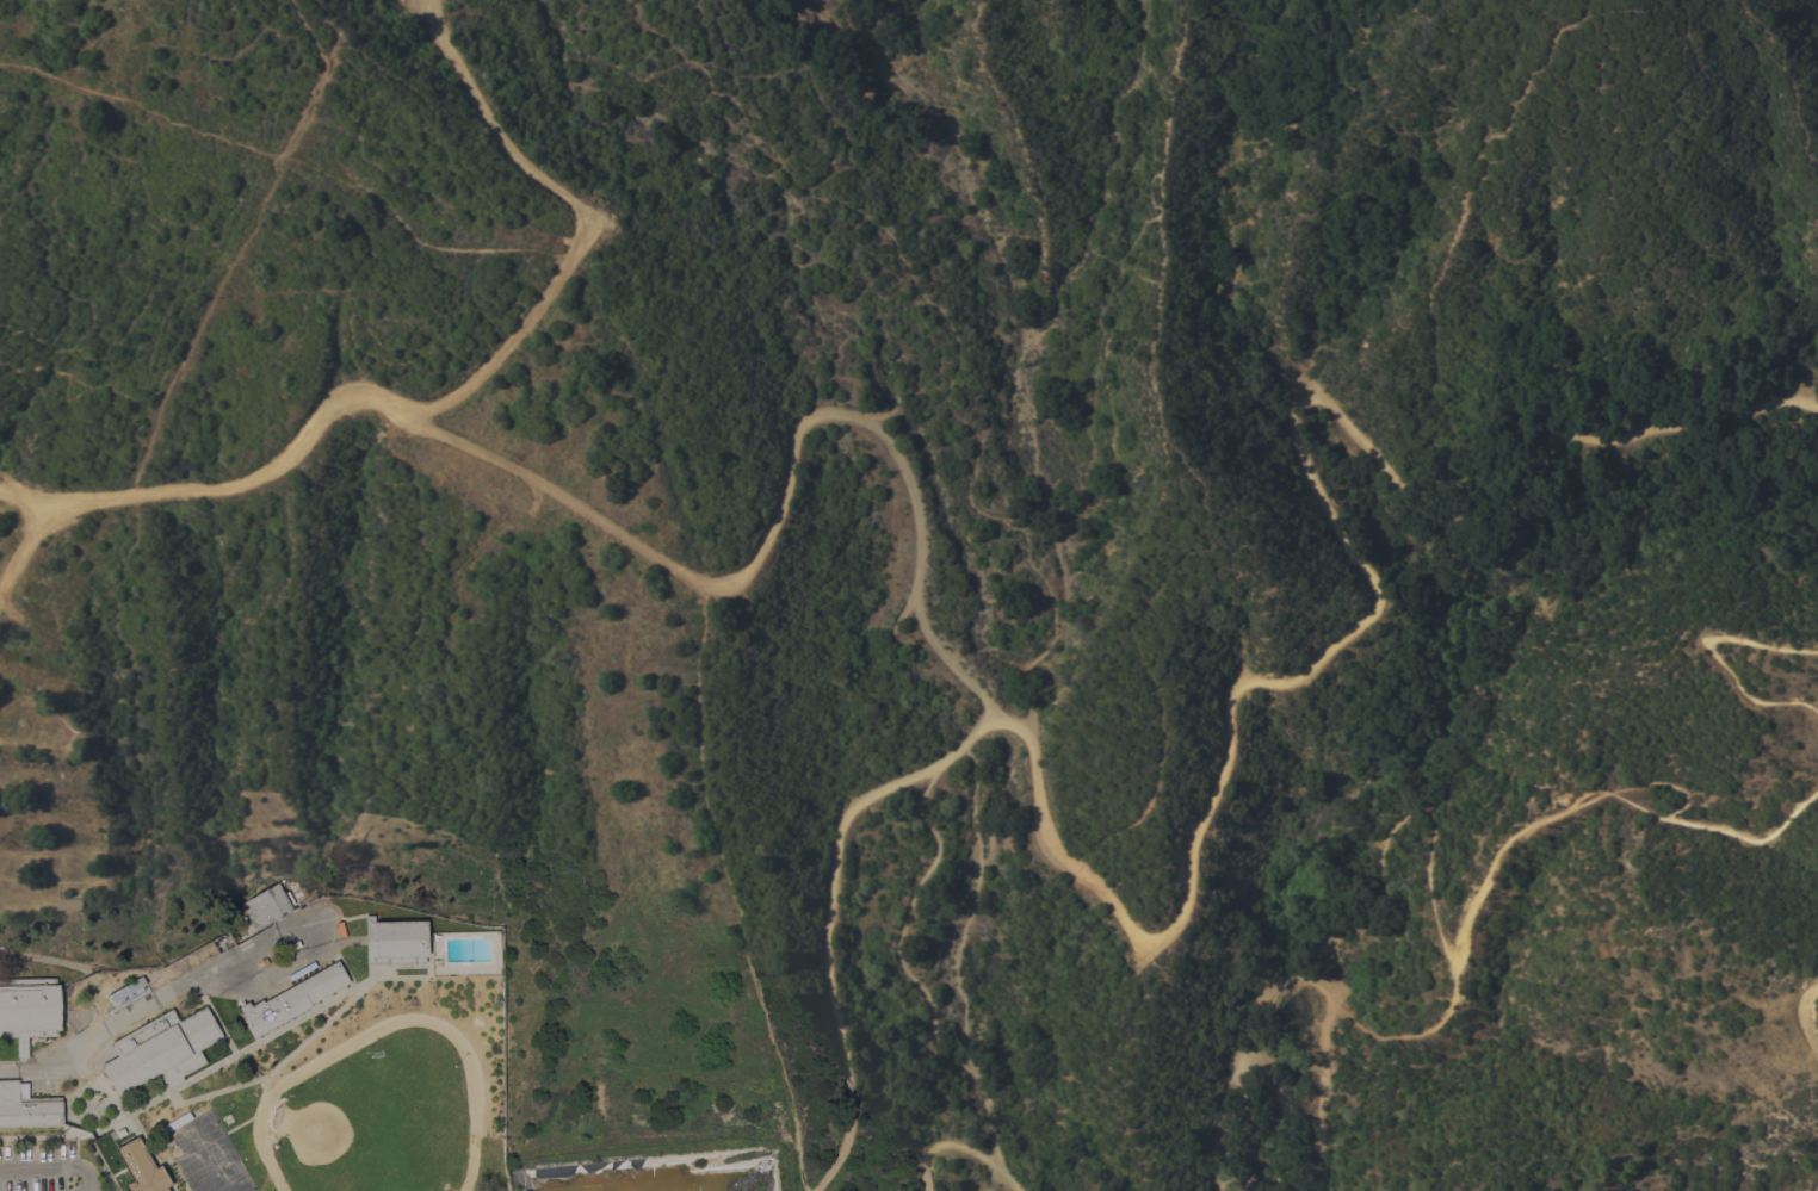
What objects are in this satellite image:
road: (579, 217)
road: (947, 328)
road: (21, 497)
road: (21, 545)
road: (650, 553)
park: (891, 584)
road: (1715, 652)
road: (1225, 758)
road: (1545, 825)
road: (732, 885)
building: (73, 904)
building: (267, 906)
road: (317, 939)
building: (395, 942)
road: (78, 966)
building: (125, 990)
building: (292, 999)
building: (29, 1010)
road: (1804, 1021)
road: (100, 1032)
building: (160, 1050)
road: (1249, 1050)
road: (1318, 1098)
building: (26, 1108)
building: (177, 1123)
road: (957, 1142)
building: (141, 1168)
road: (51, 1171)

